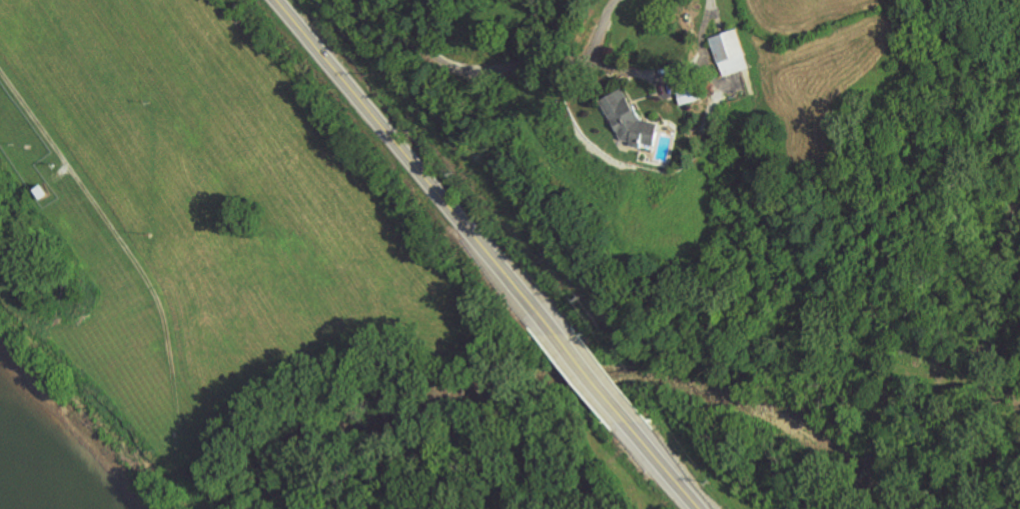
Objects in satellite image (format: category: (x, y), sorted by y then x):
building: (730, 51)
road: (480, 63)
road: (663, 76)
building: (628, 119)
road: (413, 167)
road: (99, 214)
road: (594, 373)
road: (669, 462)

